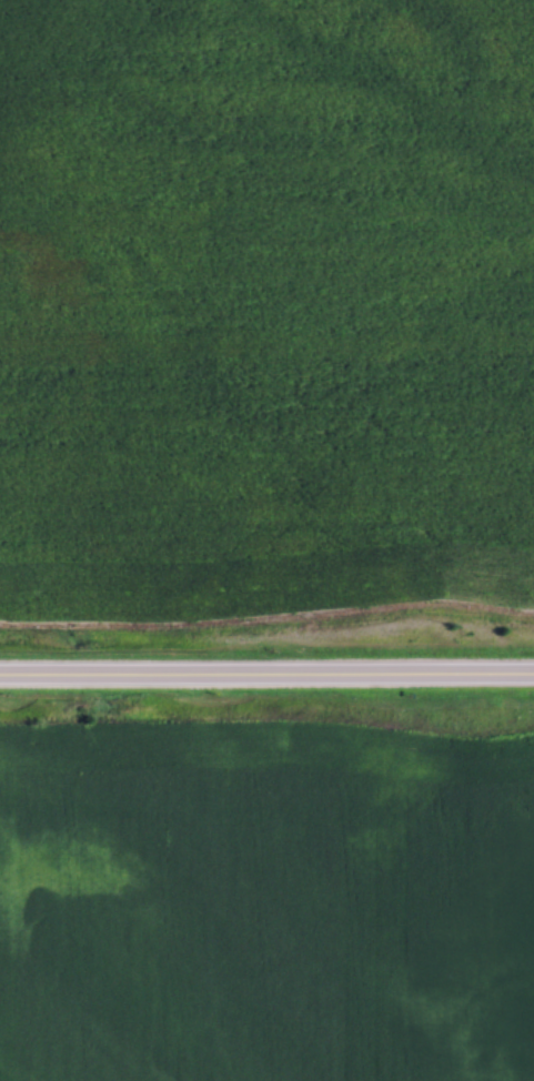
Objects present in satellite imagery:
road: (266, 679)

